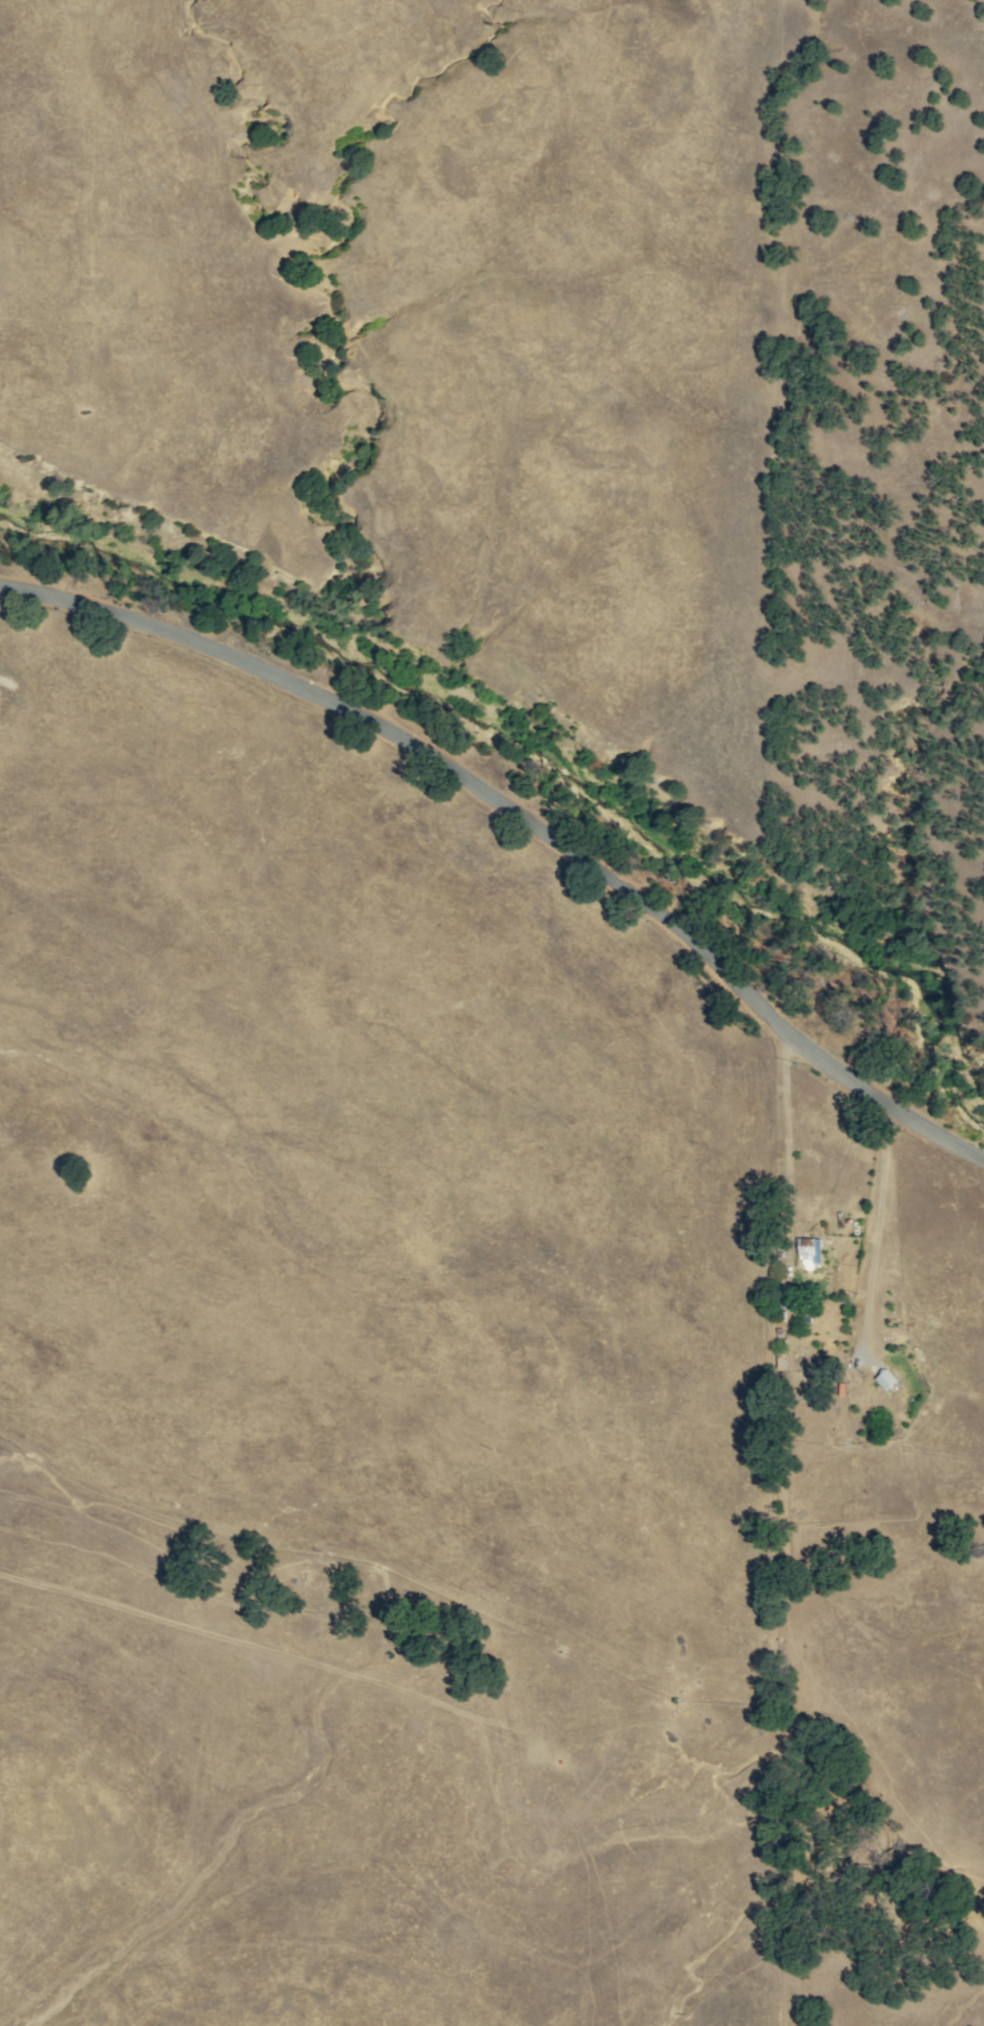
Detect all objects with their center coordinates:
river: (541, 751)
road: (523, 816)
building: (887, 1380)

